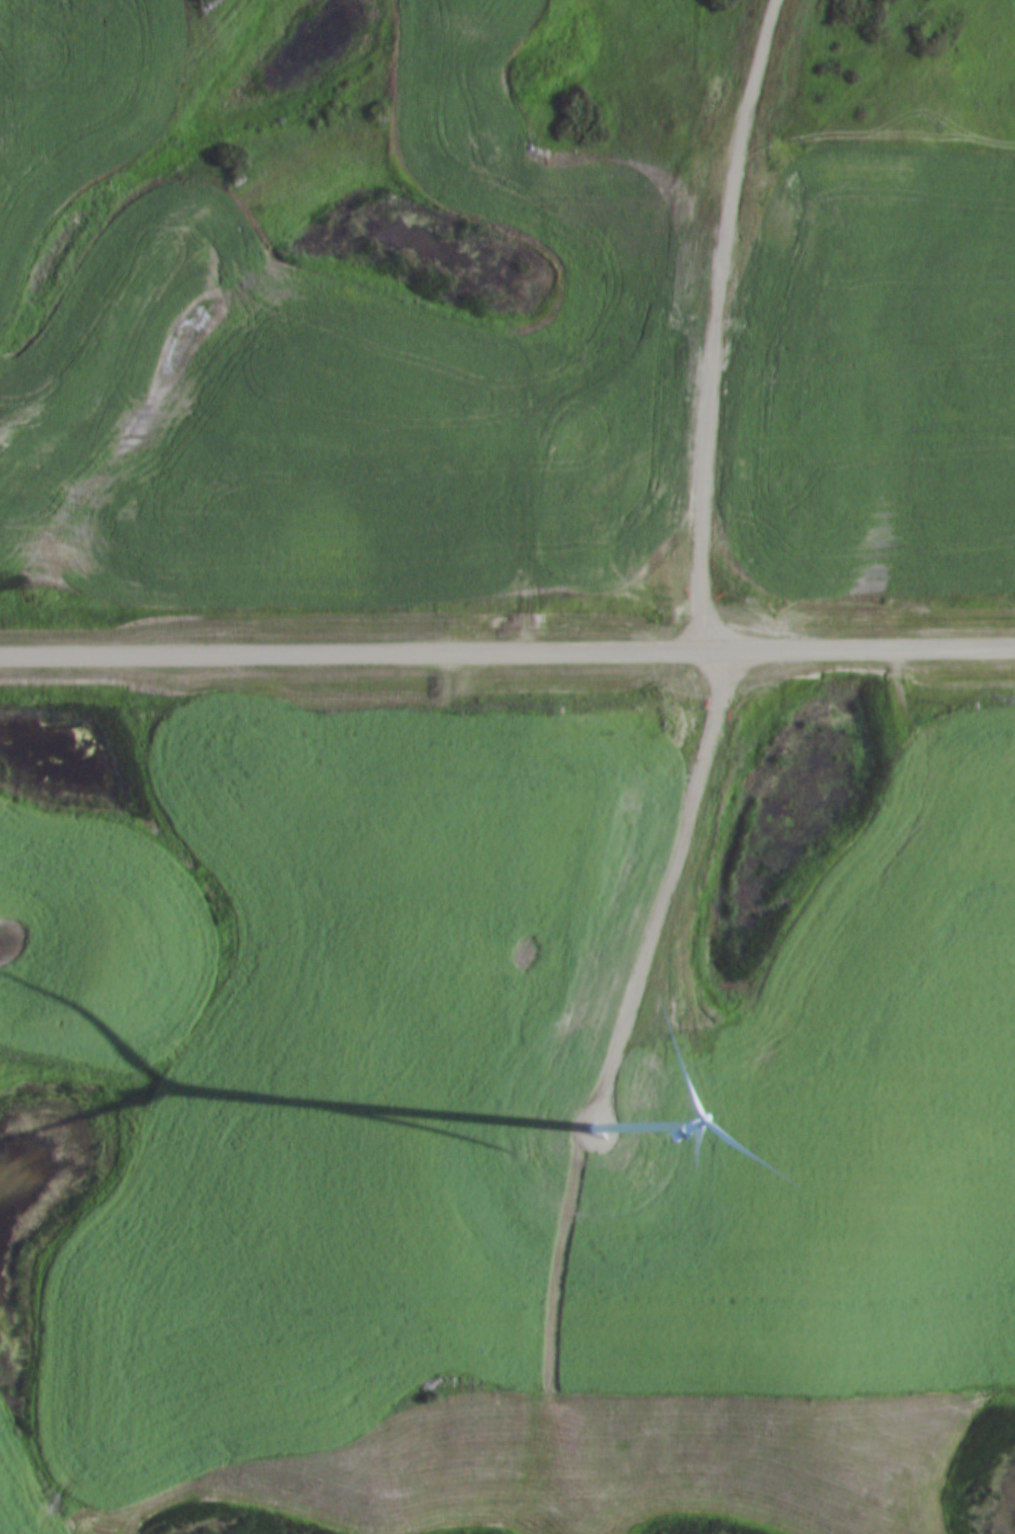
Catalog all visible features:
road: (706, 321)
road: (507, 651)
wind turbine: (579, 1127)

